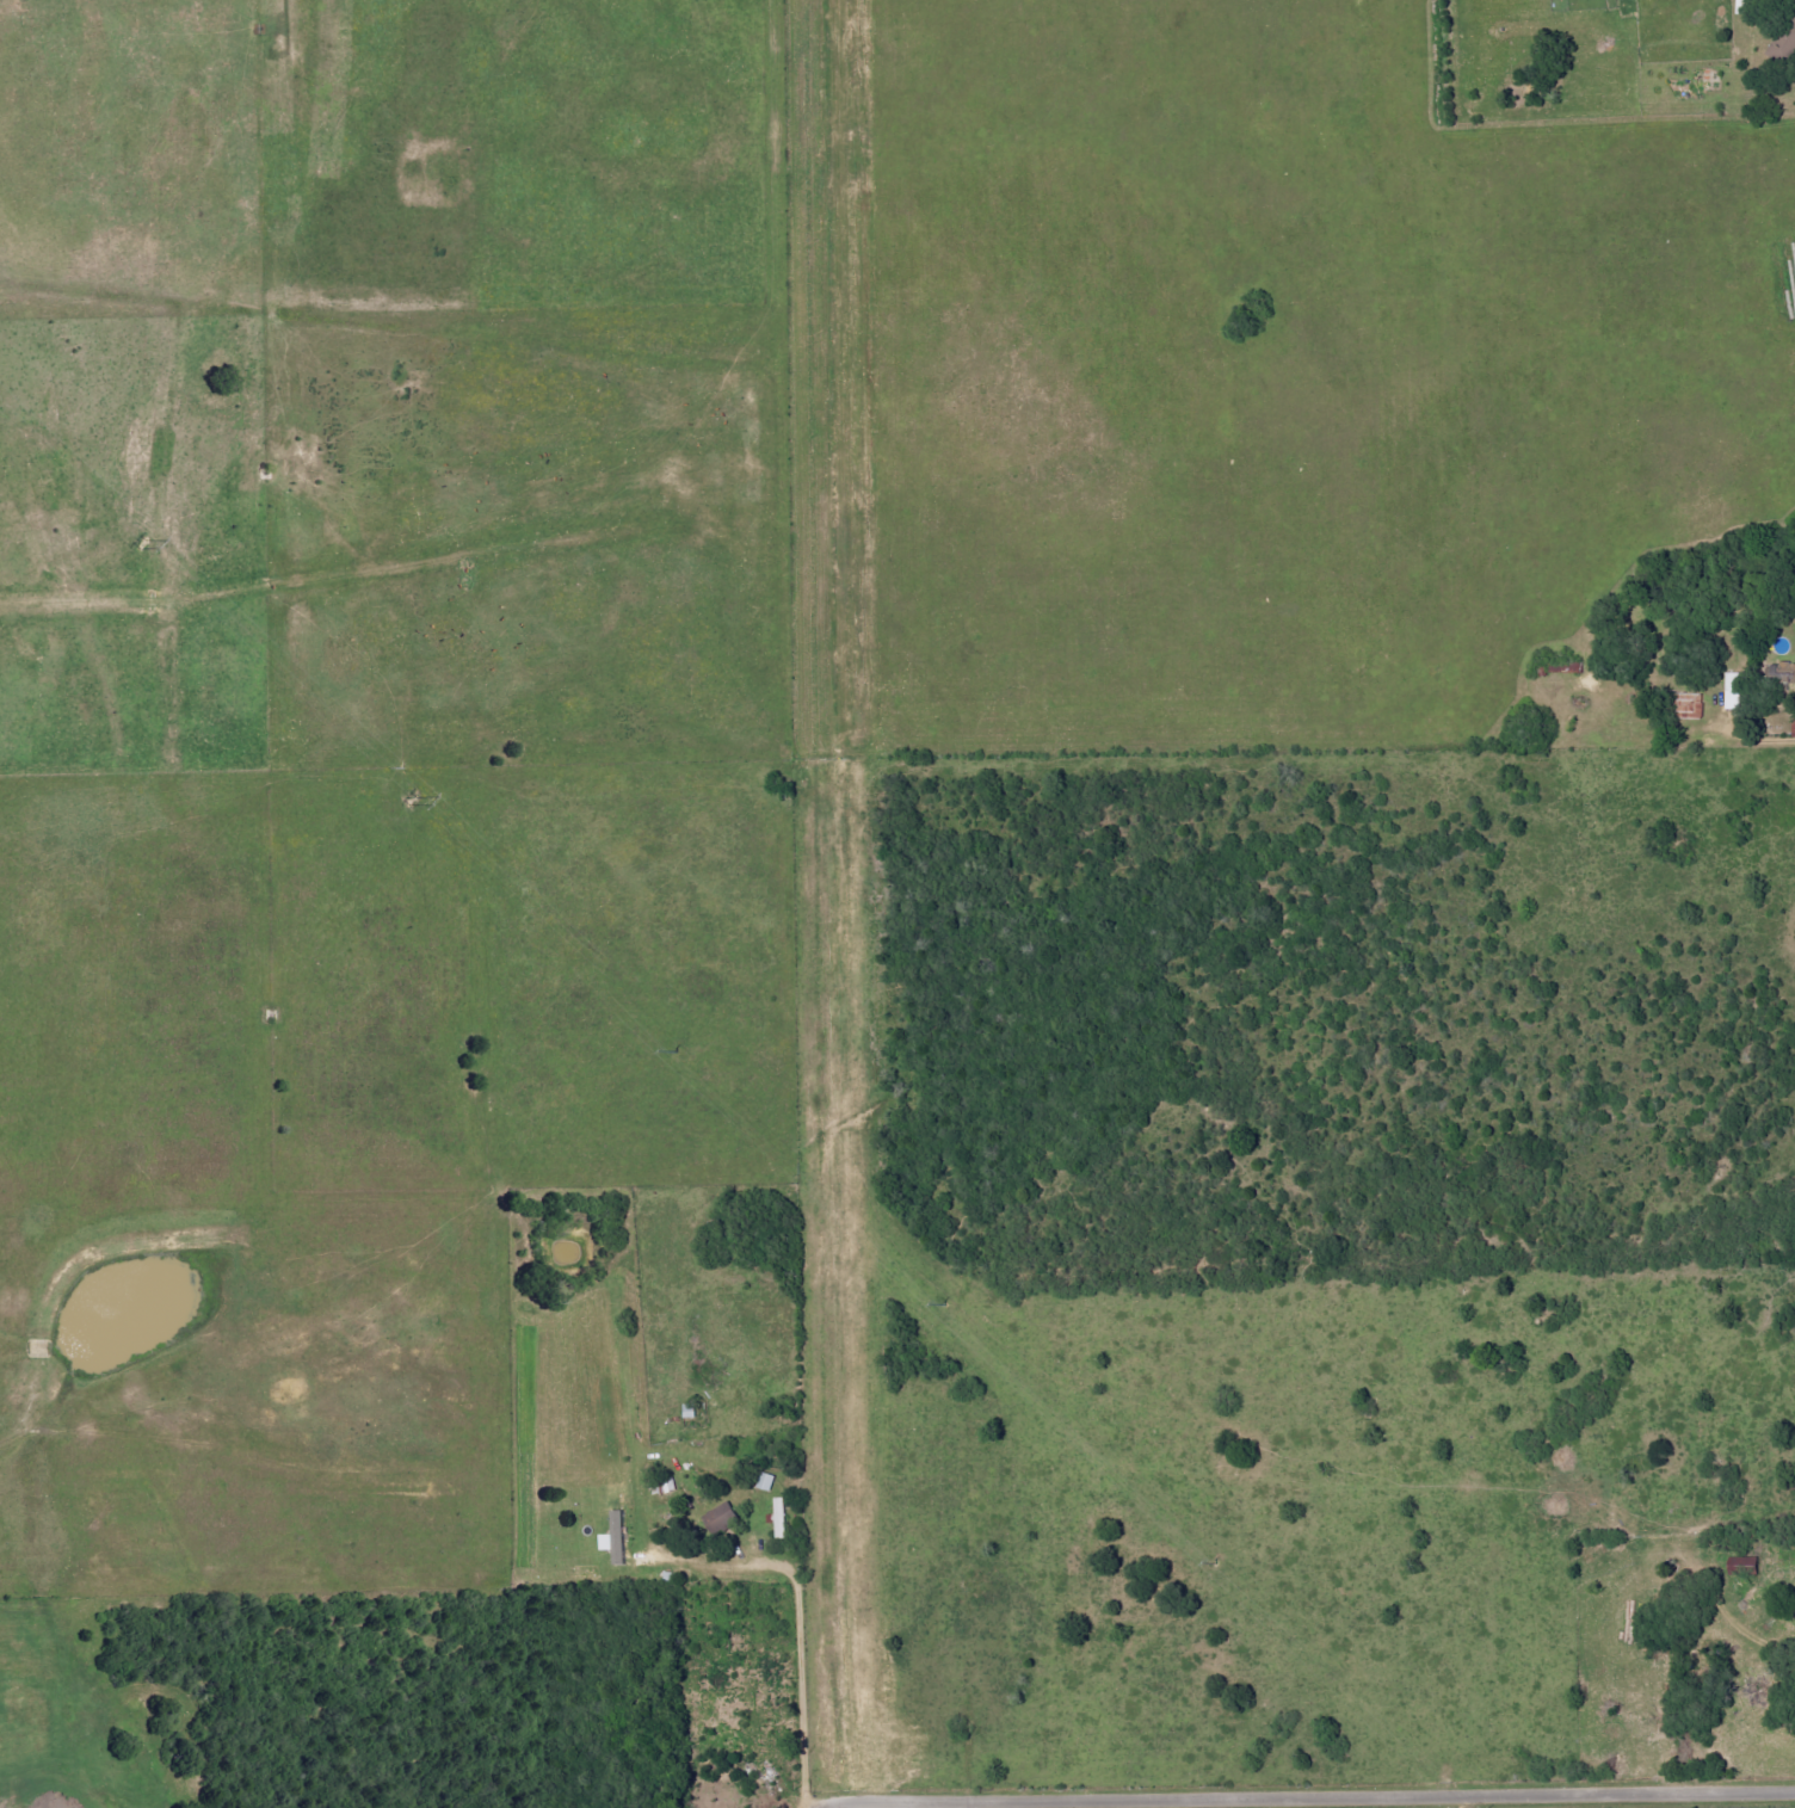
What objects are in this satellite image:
building: (1785, 45)
power tower: (129, 538)
building: (1783, 677)
building: (1733, 691)
building: (1791, 728)
road: (1762, 741)
power tower: (400, 791)
power tower: (666, 1044)
power tower: (933, 1301)
building: (691, 1411)
building: (767, 1482)
building: (722, 1518)
building: (782, 1518)
building: (617, 1538)
road: (802, 1625)
road: (1314, 1794)

